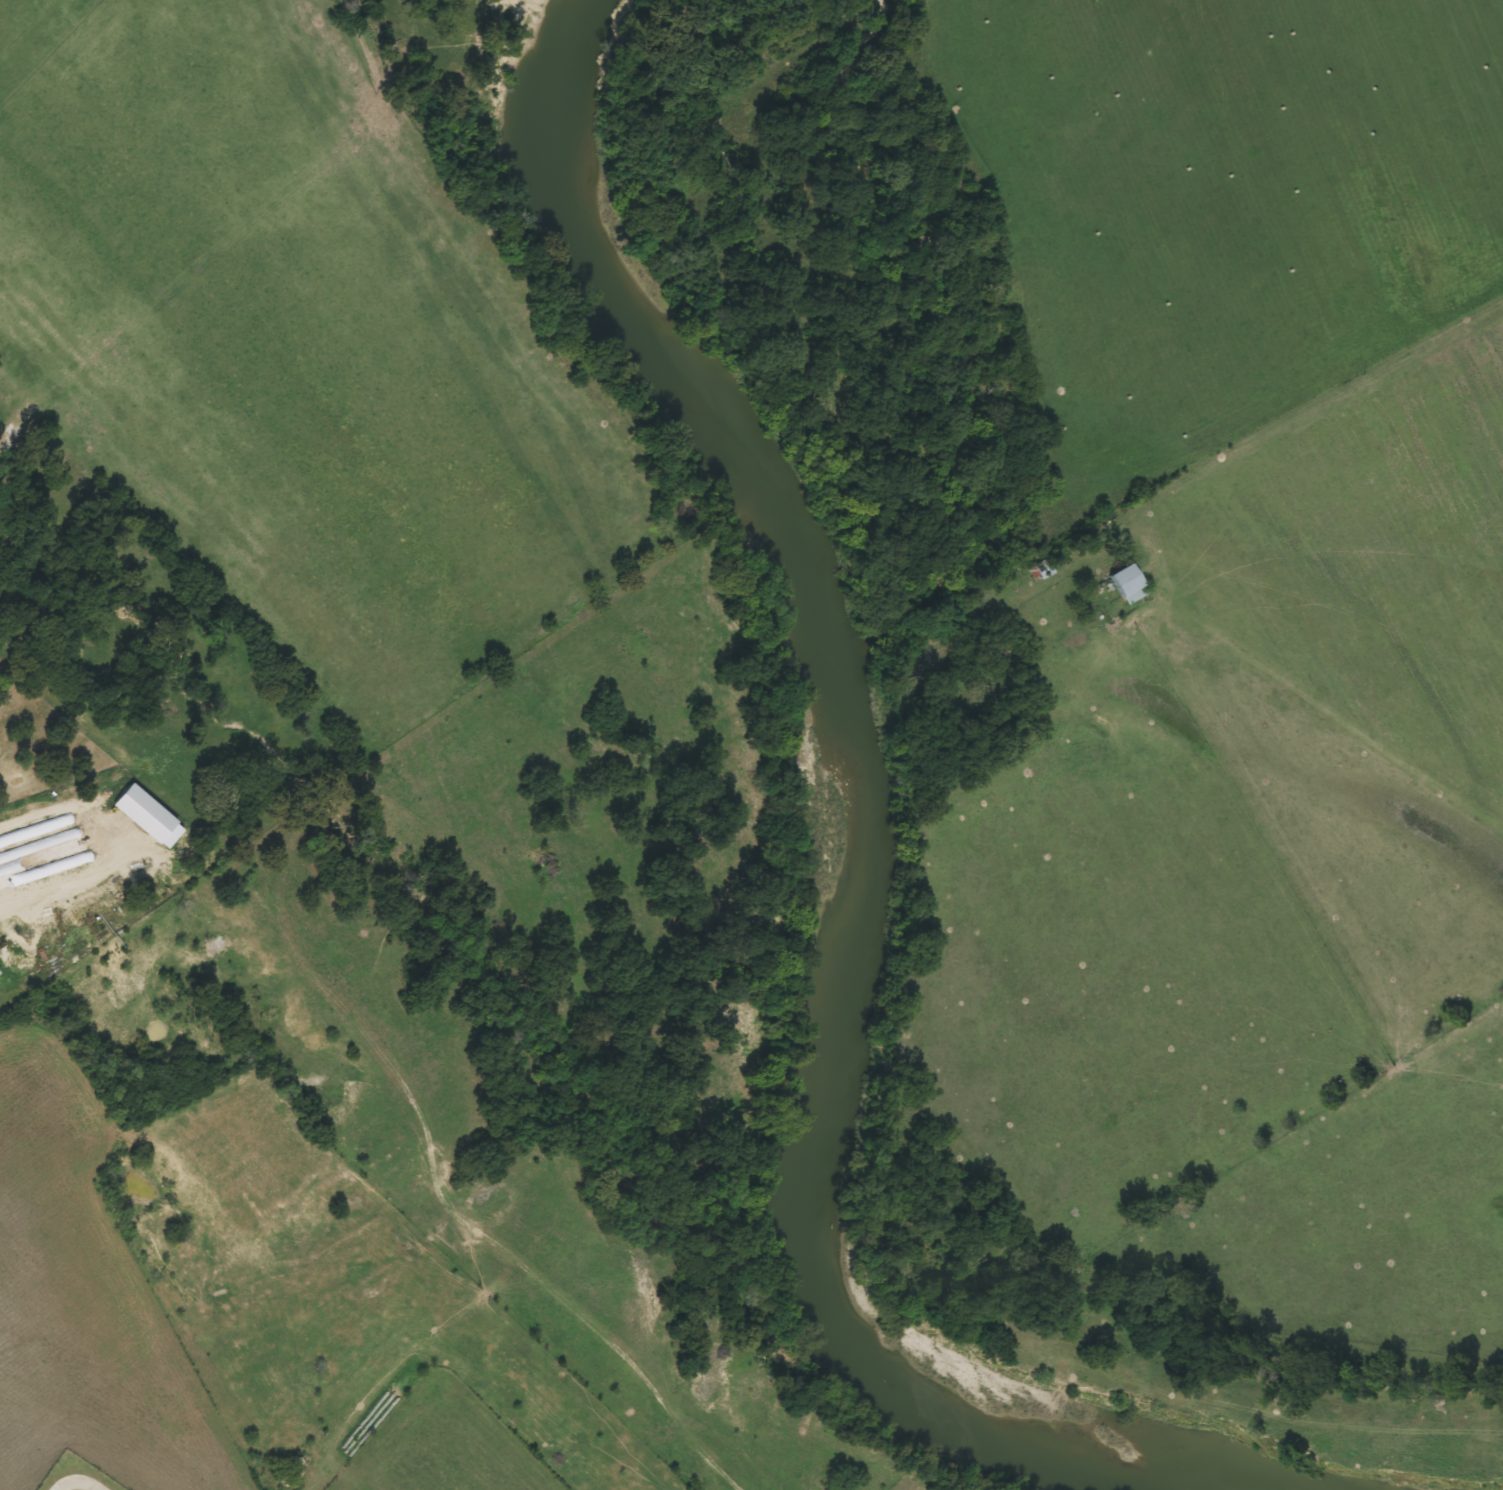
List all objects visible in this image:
road: (1323, 406)
building: (1043, 570)
building: (1131, 583)
river: (869, 831)

